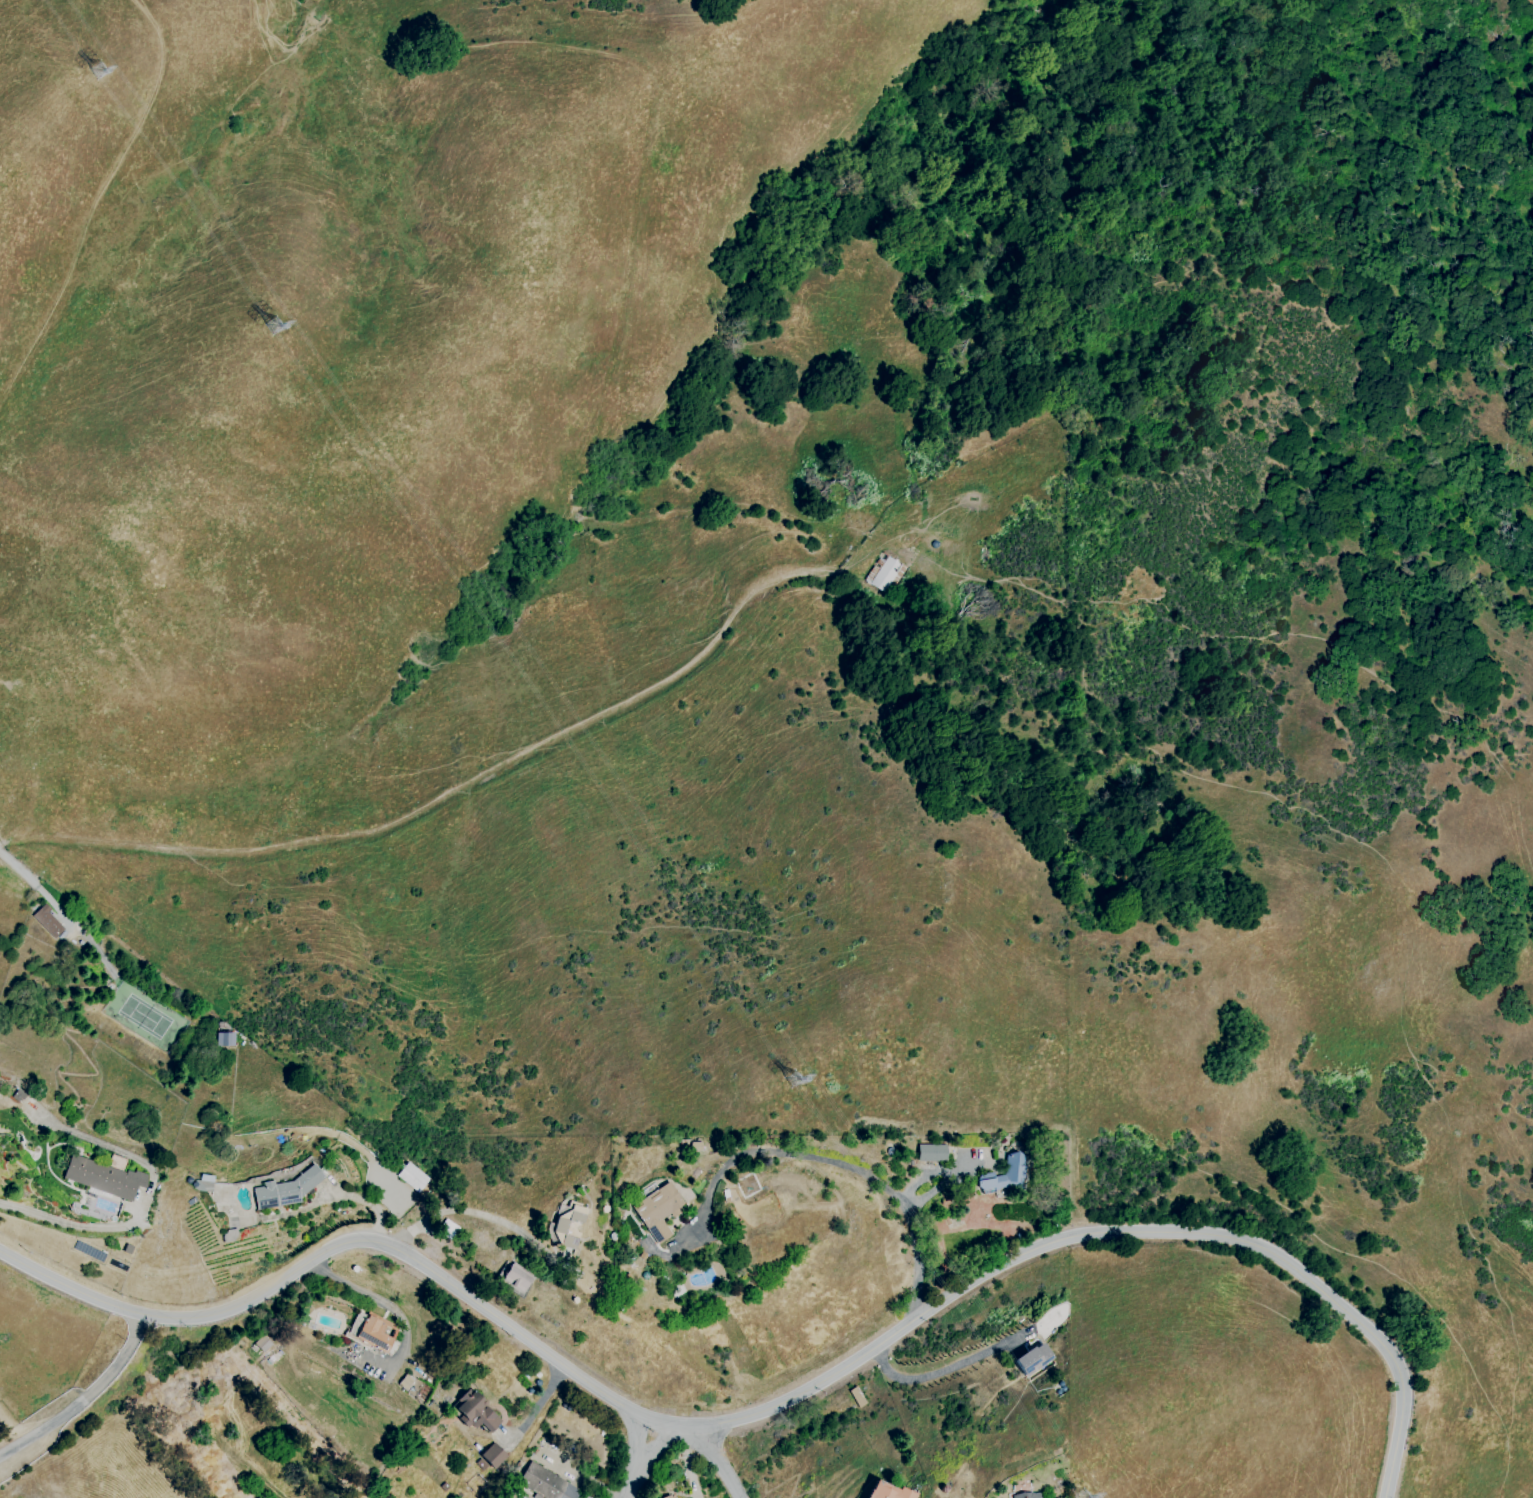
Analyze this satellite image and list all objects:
power tower: (91, 75)
road: (96, 200)
power tower: (267, 331)
building: (884, 574)
road: (24, 795)
road: (444, 800)
road: (30, 882)
building: (48, 922)
building: (224, 1039)
power tower: (785, 1085)
building: (932, 1156)
road: (827, 1161)
building: (405, 1179)
building: (1003, 1179)
building: (97, 1180)
building: (282, 1194)
road: (352, 1198)
road: (458, 1210)
building: (655, 1213)
road: (75, 1225)
building: (566, 1232)
building: (516, 1277)
road: (396, 1314)
building: (377, 1332)
building: (262, 1343)
building: (1033, 1359)
road: (938, 1370)
building: (857, 1397)
road: (84, 1400)
road: (535, 1409)
road: (764, 1412)
building: (477, 1413)
road: (11, 1426)
building: (489, 1458)
road: (643, 1463)
road: (719, 1463)
road: (586, 1479)
building: (546, 1483)
building: (889, 1492)
building: (1027, 1496)
building: (668, 1497)

